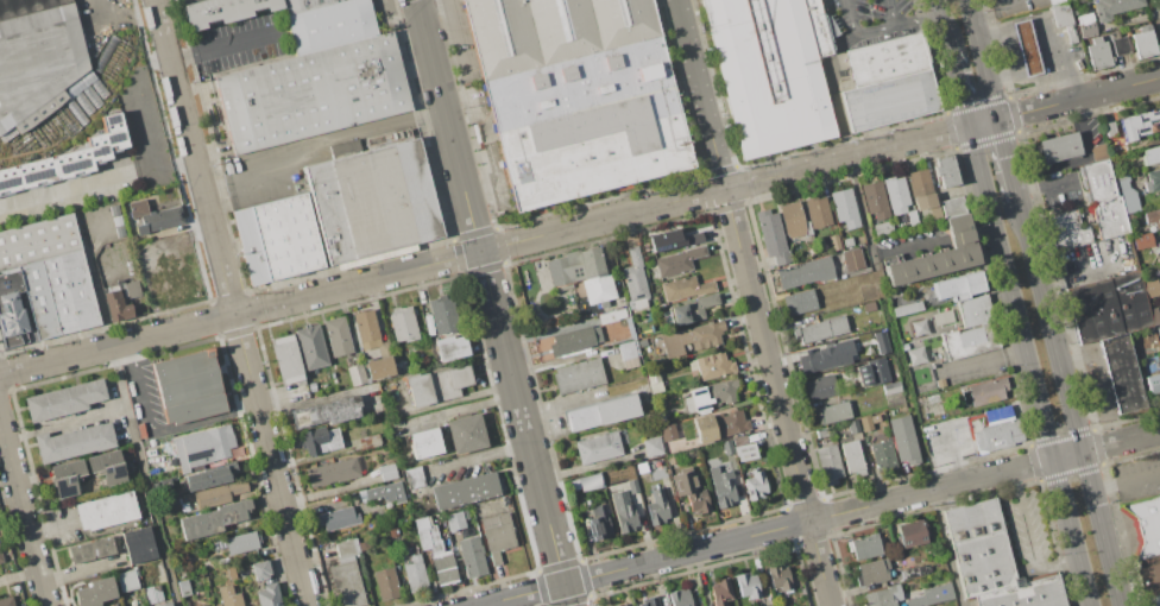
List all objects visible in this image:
building: (1055, 1)
building: (302, 4)
road: (981, 4)
building: (1112, 7)
building: (223, 11)
road: (109, 12)
road: (895, 13)
parking lot: (876, 18)
building: (1064, 18)
road: (929, 19)
road: (941, 24)
building: (328, 25)
building: (1085, 25)
road: (1008, 27)
building: (553, 30)
road: (872, 31)
building: (1143, 42)
road: (222, 43)
gas station: (1042, 45)
building: (1120, 45)
building: (1027, 48)
road: (837, 52)
building: (1098, 53)
building: (888, 57)
building: (37, 61)
road: (982, 61)
road: (1051, 62)
road: (1019, 68)
building: (771, 72)
road: (958, 88)
building: (313, 93)
road: (700, 94)
building: (889, 101)
road: (839, 112)
rooftop solar panel: (112, 119)
building: (588, 124)
building: (1139, 124)
road: (447, 125)
building: (1109, 128)
rooftop solar panel: (115, 137)
road: (316, 141)
building: (1057, 147)
road: (150, 149)
rooftop solar panel: (99, 151)
building: (1150, 154)
road: (194, 157)
road: (1079, 159)
building: (64, 160)
road: (1008, 160)
rooftop solar panel: (72, 165)
road: (820, 165)
building: (945, 171)
building: (1097, 175)
rooftop solar panel: (34, 176)
building: (1152, 179)
road: (1045, 183)
building: (920, 189)
road: (68, 190)
building: (895, 194)
building: (1126, 195)
building: (875, 200)
building: (372, 201)
road: (735, 203)
building: (952, 206)
road: (724, 207)
building: (844, 208)
building: (817, 212)
road: (864, 212)
building: (934, 212)
building: (1152, 216)
building: (153, 217)
building: (912, 217)
building: (792, 220)
building: (1089, 222)
building: (882, 227)
road: (982, 231)
road: (959, 235)
building: (771, 236)
building: (276, 239)
building: (673, 239)
building: (846, 241)
building: (1142, 241)
building: (833, 242)
road: (912, 247)
building: (1159, 247)
building: (938, 255)
building: (851, 259)
building: (679, 261)
road: (1077, 269)
building: (803, 272)
building: (581, 273)
building: (44, 278)
building: (633, 279)
road: (357, 283)
building: (958, 286)
building: (683, 288)
building: (1149, 288)
building: (131, 290)
building: (868, 291)
building: (655, 301)
building: (799, 302)
building: (115, 305)
building: (869, 307)
building: (1107, 307)
building: (907, 308)
building: (691, 309)
building: (973, 310)
building: (442, 315)
building: (1154, 315)
building: (611, 316)
building: (941, 317)
building: (805, 321)
building: (401, 324)
building: (650, 328)
building: (366, 329)
building: (820, 329)
building: (918, 329)
building: (1158, 330)
building: (336, 336)
building: (692, 337)
building: (573, 340)
building: (969, 341)
building: (642, 342)
building: (881, 342)
road: (116, 345)
building: (310, 347)
building: (450, 348)
building: (628, 355)
building: (915, 355)
building: (826, 356)
building: (285, 359)
road: (983, 360)
building: (711, 366)
road: (510, 367)
road: (1028, 367)
building: (378, 368)
road: (771, 371)
building: (871, 372)
building: (1121, 373)
building: (354, 374)
building: (578, 375)
road: (906, 378)
building: (652, 380)
building: (1152, 383)
building: (435, 385)
building: (188, 386)
building: (820, 386)
road: (140, 387)
rooftop solar panel: (698, 391)
building: (983, 392)
building: (711, 396)
building: (63, 399)
road: (1070, 402)
rooftop solar panel: (700, 408)
road: (464, 409)
building: (326, 411)
building: (601, 412)
building: (832, 412)
building: (874, 418)
road: (204, 419)
building: (865, 423)
road: (68, 424)
building: (719, 425)
building: (852, 427)
road: (133, 430)
building: (667, 433)
building: (824, 433)
building: (465, 434)
building: (997, 435)
building: (902, 438)
building: (738, 440)
building: (319, 441)
building: (71, 442)
building: (367, 442)
building: (423, 443)
building: (203, 446)
building: (651, 446)
building: (597, 448)
building: (744, 452)
rooftop solar panel: (197, 454)
building: (882, 456)
building: (851, 457)
road: (271, 460)
building: (828, 463)
building: (106, 466)
building: (638, 469)
building: (332, 472)
building: (386, 472)
rooftop solar panel: (118, 473)
building: (65, 476)
building: (209, 476)
building: (412, 478)
road: (984, 478)
road: (1127, 480)
building: (588, 481)
road: (1015, 481)
building: (755, 485)
building: (632, 486)
building: (721, 486)
building: (689, 490)
building: (464, 491)
rooftop solar panel: (63, 492)
building: (386, 493)
building: (218, 494)
building: (172, 501)
building: (657, 507)
road: (24, 509)
building: (105, 511)
building: (623, 512)
building: (213, 519)
building: (336, 519)
building: (454, 520)
building: (598, 522)
building: (1146, 524)
road: (52, 525)
road: (1028, 531)
building: (910, 532)
parking lot: (1029, 532)
building: (496, 535)
road: (551, 535)
building: (239, 543)
building: (137, 545)
building: (361, 545)
building: (864, 547)
building: (979, 547)
building: (346, 548)
road: (948, 548)
building: (89, 550)
building: (434, 551)
building: (471, 556)
building: (0, 560)
road: (643, 563)
road: (820, 563)
road: (1058, 567)
building: (158, 570)
building: (259, 570)
building: (229, 572)
building: (871, 572)
building: (415, 574)
building: (1148, 575)
building: (777, 577)
building: (126, 580)
building: (346, 581)
building: (385, 585)
building: (746, 585)
building: (183, 587)
building: (94, 592)
building: (720, 592)
building: (152, 593)
road: (567, 594)
building: (1025, 594)
building: (267, 595)
building: (931, 595)
building: (228, 596)
building: (882, 596)
building: (679, 598)
building: (1152, 600)
building: (6, 601)
building: (649, 601)
building: (164, 604)
building: (143, 605)
building: (620, 605)
building: (625, 605)

